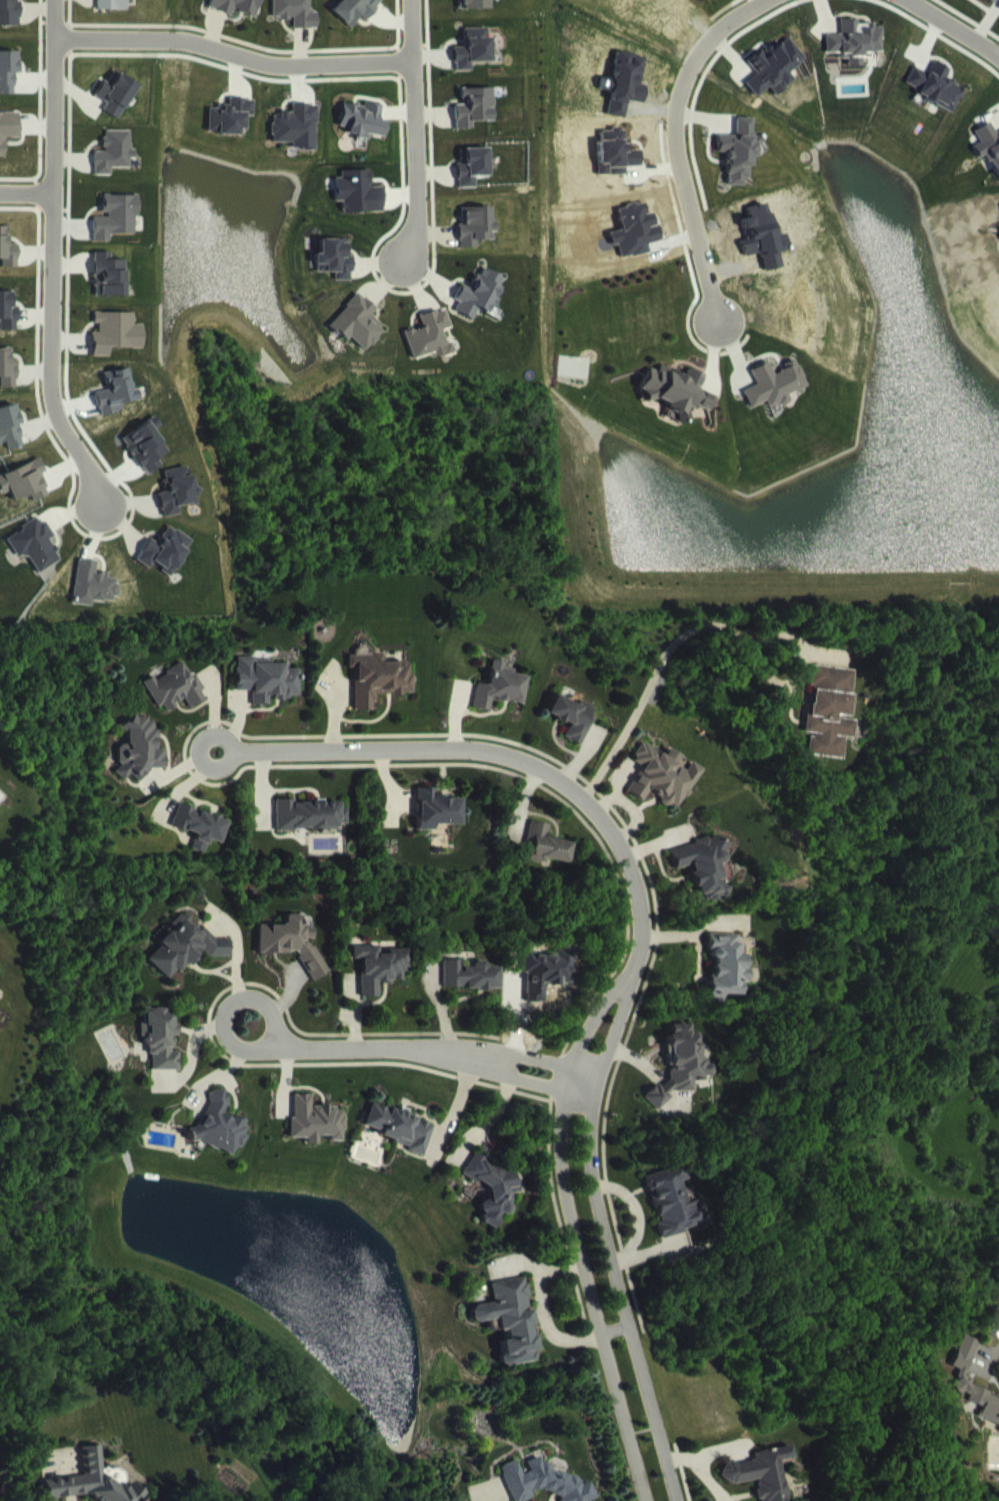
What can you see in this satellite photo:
building: (701, 3)
building: (983, 5)
building: (471, 10)
building: (111, 11)
building: (235, 13)
building: (355, 19)
building: (9, 20)
building: (294, 22)
road: (954, 28)
road: (410, 29)
road: (231, 52)
building: (851, 55)
building: (472, 62)
building: (7, 85)
road: (52, 96)
building: (932, 100)
building: (114, 107)
building: (474, 120)
building: (229, 130)
building: (363, 133)
building: (296, 140)
building: (7, 142)
road: (671, 148)
building: (987, 159)
road: (415, 160)
building: (736, 164)
building: (112, 166)
building: (472, 180)
road: (25, 192)
building: (359, 206)
building: (114, 230)
building: (475, 239)
building: (760, 250)
building: (7, 263)
building: (334, 272)
building: (107, 289)
building: (479, 307)
building: (7, 325)
building: (356, 336)
building: (115, 346)
building: (430, 350)
road: (49, 353)
building: (7, 383)
building: (772, 398)
building: (675, 404)
building: (10, 441)
building: (145, 459)
building: (25, 495)
building: (176, 504)
building: (36, 558)
building: (165, 564)
building: (94, 598)
road: (669, 668)
building: (378, 692)
building: (267, 694)
building: (498, 700)
building: (176, 701)
building: (829, 724)
building: (571, 731)
road: (334, 749)
building: (140, 763)
building: (661, 789)
building: (436, 823)
building: (310, 829)
building: (200, 839)
road: (623, 854)
building: (546, 858)
building: (706, 880)
building: (293, 957)
building: (186, 959)
building: (725, 979)
building: (380, 981)
building: (469, 989)
road: (263, 1046)
road: (516, 1050)
building: (161, 1052)
road: (511, 1073)
building: (679, 1078)
building: (315, 1134)
building: (219, 1139)
building: (400, 1141)
building: (493, 1202)
building: (670, 1216)
road: (573, 1232)
road: (608, 1238)
road: (615, 1327)
building: (512, 1332)
road: (990, 1350)
building: (963, 1389)
building: (758, 1481)
building: (87, 1486)
building: (539, 1489)
building: (133, 1499)

